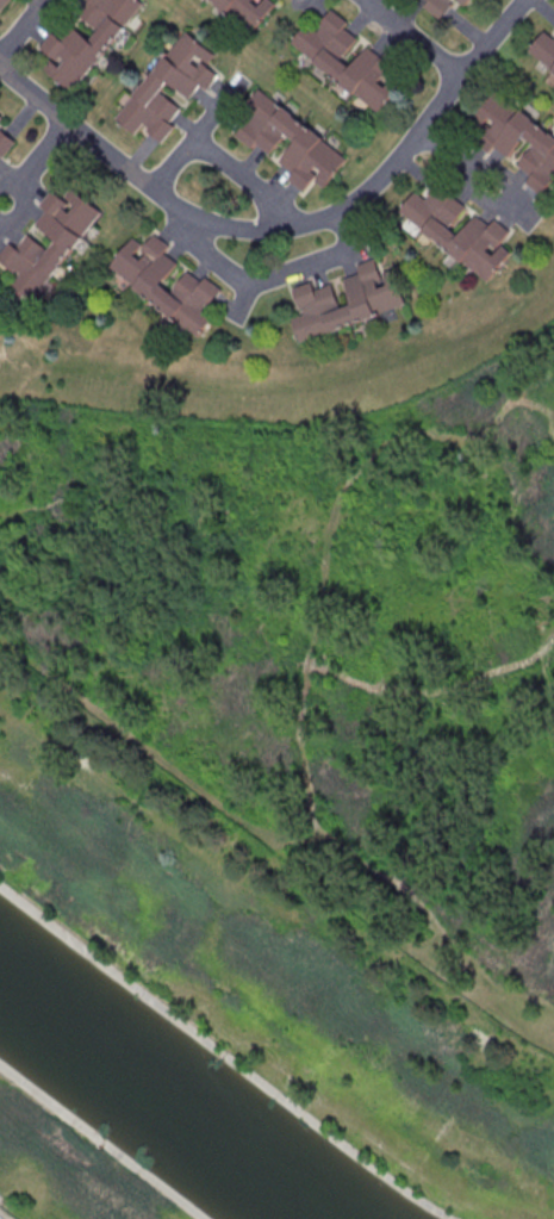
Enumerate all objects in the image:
building: (463, 0)
building: (5, 5)
building: (437, 6)
building: (248, 11)
road: (21, 31)
road: (417, 37)
building: (88, 38)
building: (544, 49)
building: (378, 61)
building: (154, 86)
building: (1, 114)
road: (197, 137)
building: (518, 138)
building: (7, 141)
building: (261, 141)
road: (44, 156)
road: (478, 173)
road: (249, 181)
road: (7, 187)
road: (24, 214)
road: (284, 228)
building: (486, 229)
building: (67, 245)
road: (273, 279)
building: (200, 286)
building: (378, 297)
river: (157, 1100)
park: (64, 1169)
parking lot: (4, 1215)

